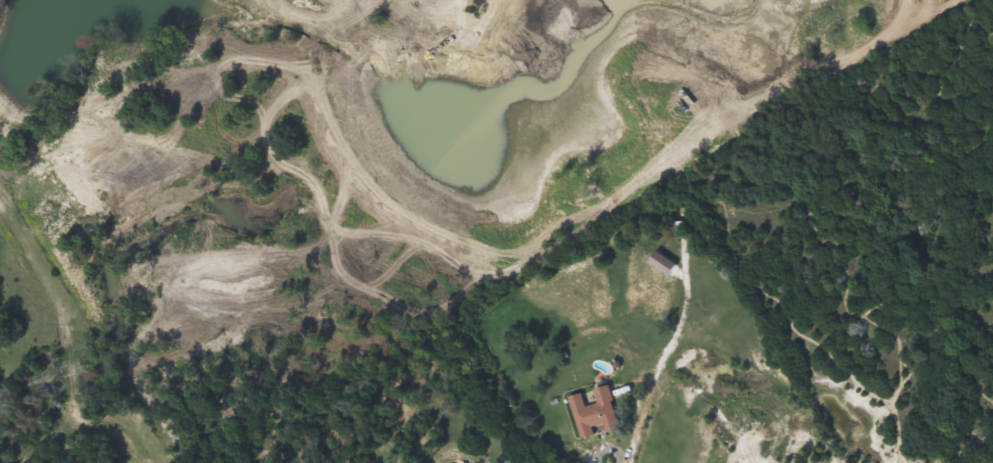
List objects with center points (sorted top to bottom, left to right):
building: (676, 229)
road: (834, 263)
building: (591, 413)

